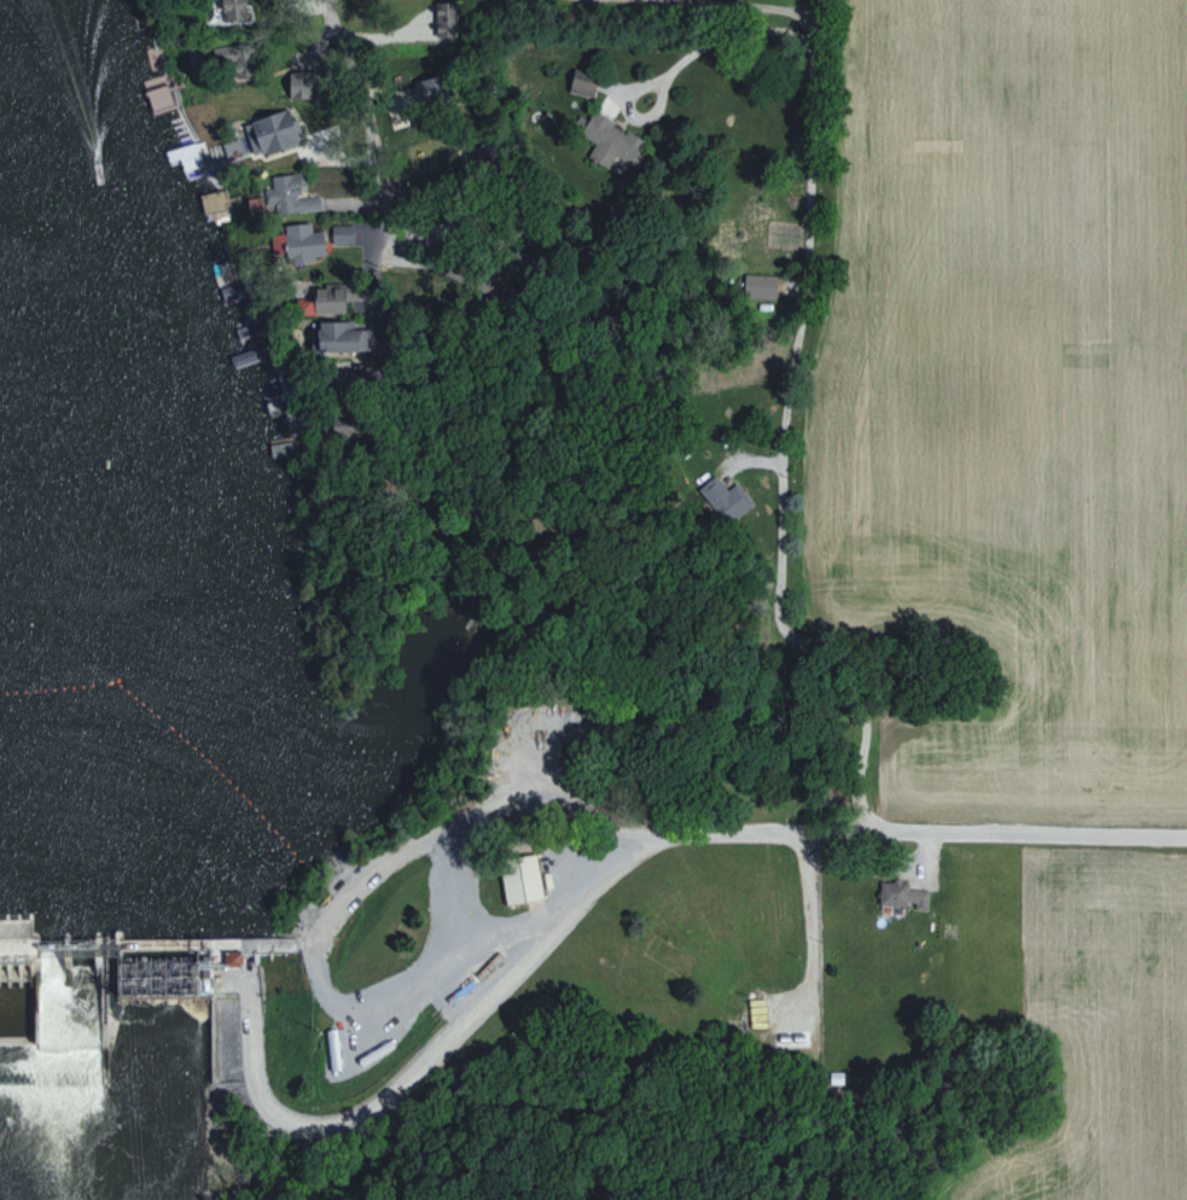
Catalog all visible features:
road: (747, 5)
building: (232, 10)
building: (581, 83)
building: (297, 85)
road: (367, 126)
building: (269, 133)
building: (610, 141)
building: (287, 196)
building: (214, 203)
building: (341, 233)
building: (302, 241)
building: (277, 243)
building: (758, 285)
building: (327, 298)
building: (303, 301)
building: (334, 336)
road: (791, 374)
building: (725, 497)
road: (462, 814)
road: (914, 831)
building: (519, 879)
building: (901, 893)
road: (798, 911)
building: (229, 957)
river: (35, 995)
road: (462, 1016)
road: (770, 1044)

